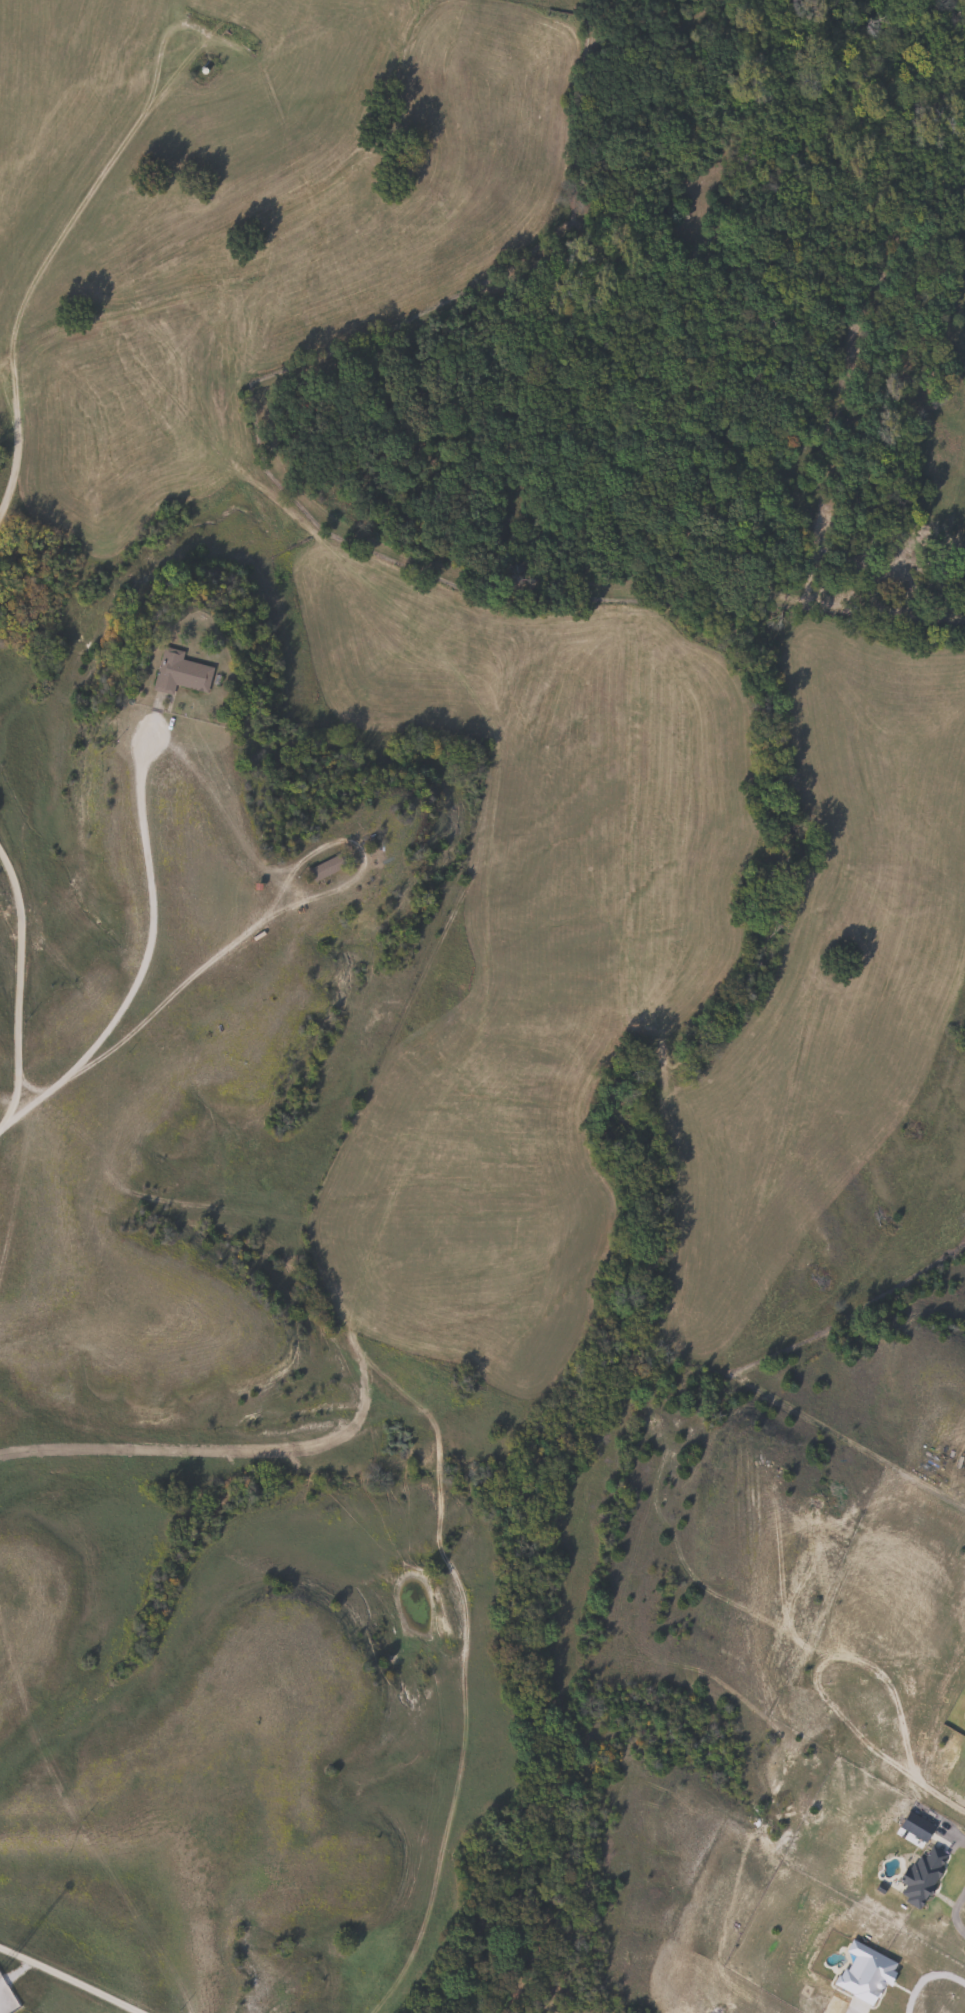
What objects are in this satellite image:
building: (179, 674)
building: (324, 870)
road: (145, 961)
road: (955, 1838)
road: (950, 1913)
road: (925, 1978)
road: (66, 1981)
building: (5, 2001)

